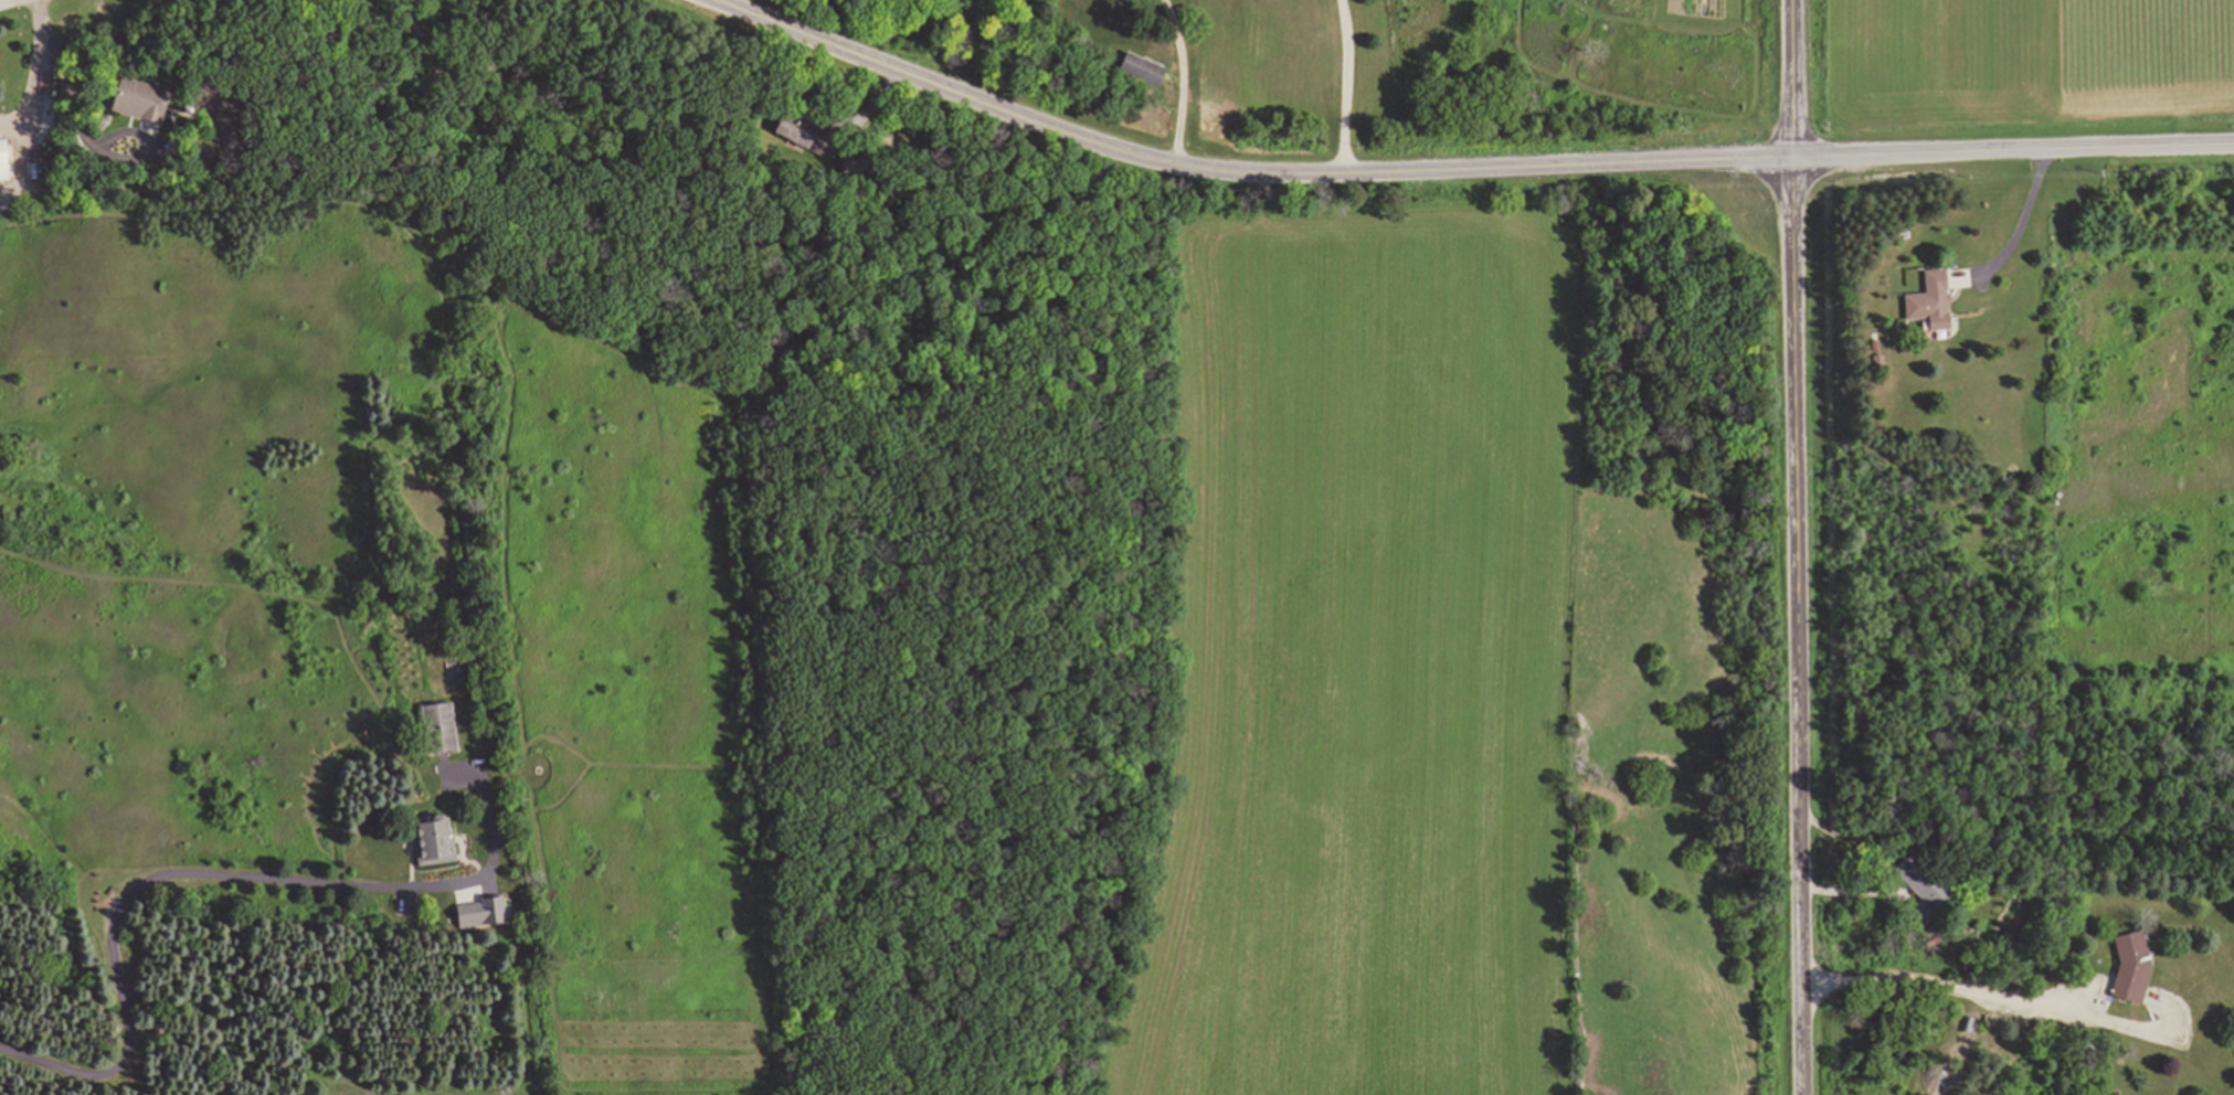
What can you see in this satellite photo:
building: (1148, 72)
road: (1180, 81)
road: (1344, 86)
building: (151, 100)
building: (788, 137)
building: (6, 161)
road: (1460, 169)
building: (1914, 301)
road: (1792, 547)
building: (444, 730)
building: (437, 842)
building: (1920, 886)
building: (484, 913)
building: (2135, 967)

